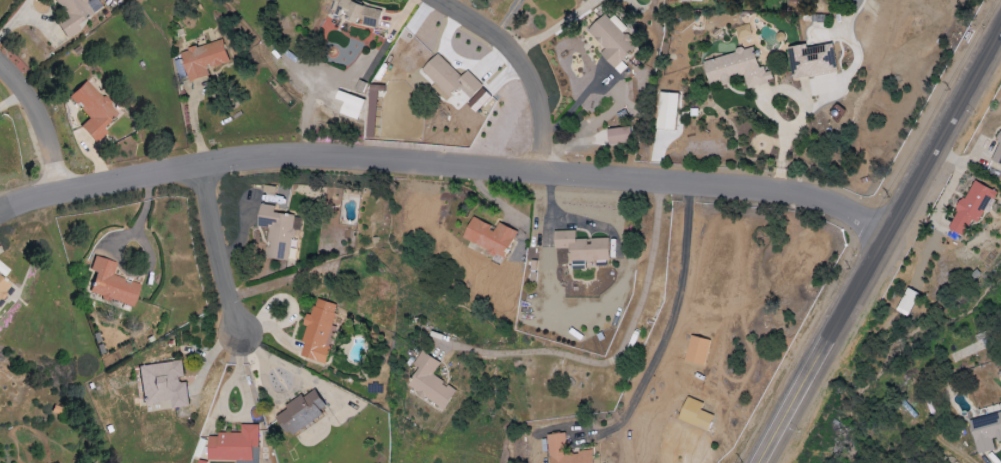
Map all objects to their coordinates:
building: (691, 0)
building: (355, 12)
building: (72, 15)
road: (555, 26)
building: (742, 31)
building: (610, 41)
building: (203, 59)
building: (811, 61)
road: (527, 67)
building: (735, 69)
building: (449, 78)
road: (10, 100)
building: (478, 100)
building: (349, 104)
building: (93, 110)
road: (39, 125)
building: (618, 135)
building: (997, 154)
road: (446, 166)
building: (971, 207)
building: (278, 231)
building: (489, 236)
road: (880, 245)
building: (580, 248)
road: (214, 249)
building: (111, 282)
building: (3, 287)
building: (906, 302)
road: (666, 330)
building: (318, 331)
building: (696, 350)
road: (619, 354)
building: (429, 382)
building: (164, 384)
road: (245, 406)
building: (301, 412)
building: (694, 414)
building: (986, 432)
building: (232, 444)
building: (564, 451)

